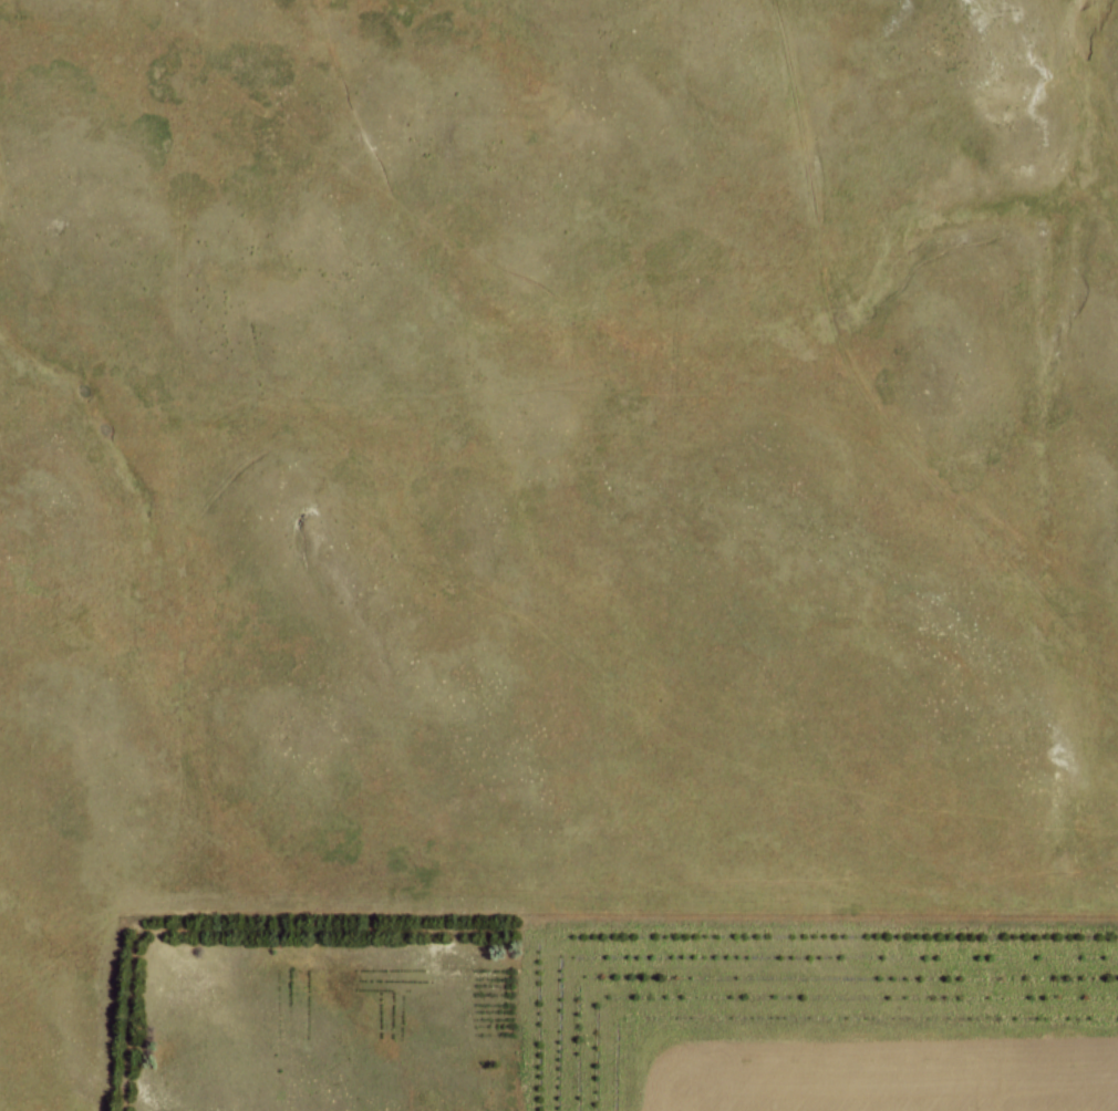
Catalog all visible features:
crop: (870, 1066)

